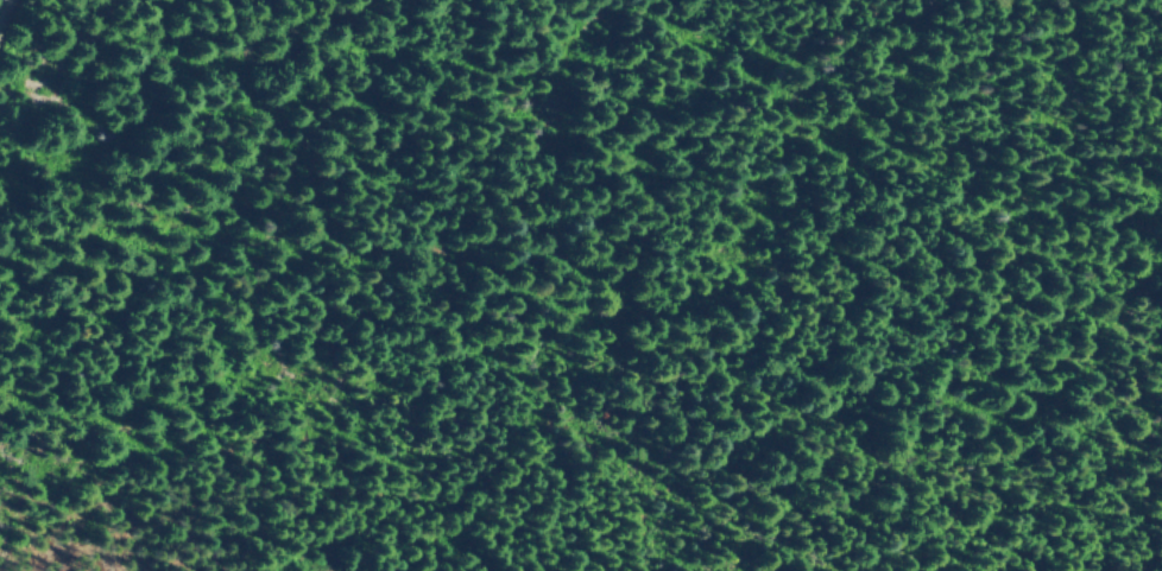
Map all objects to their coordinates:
road: (2, 7)

